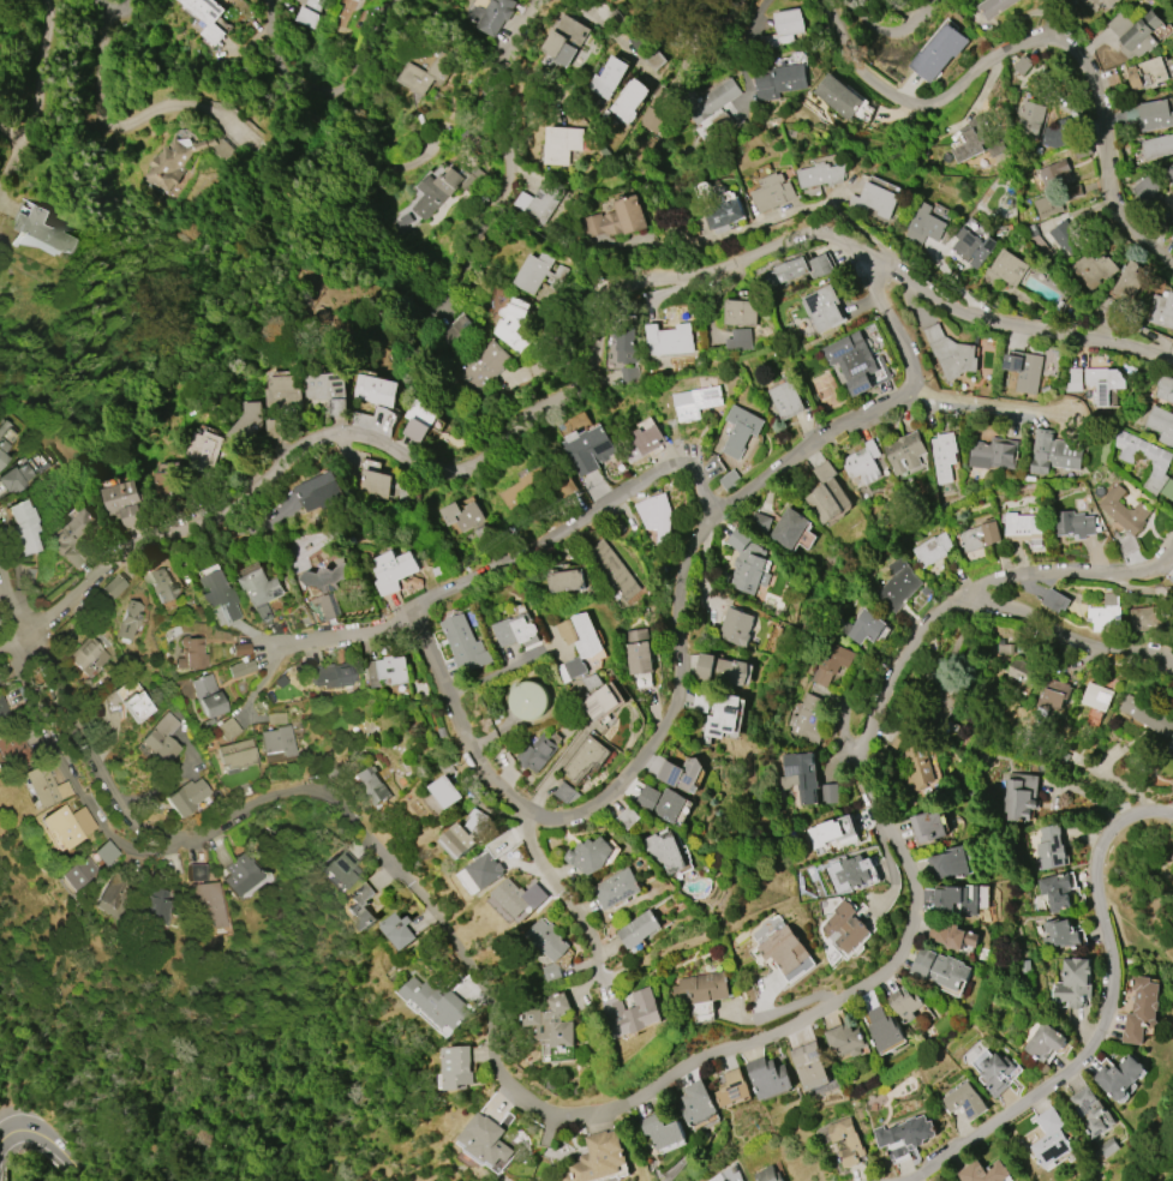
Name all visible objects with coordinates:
building: (355, 0)
building: (1097, 4)
building: (993, 7)
road: (109, 8)
road: (120, 8)
building: (306, 13)
building: (495, 14)
building: (208, 18)
building: (616, 19)
road: (1040, 20)
building: (784, 28)
road: (888, 32)
building: (1135, 32)
road: (1039, 38)
building: (565, 40)
road: (708, 42)
building: (938, 53)
building: (652, 59)
building: (1022, 64)
building: (429, 73)
building: (1147, 73)
building: (608, 77)
building: (0, 78)
building: (780, 82)
road: (304, 85)
building: (837, 96)
building: (710, 100)
building: (628, 101)
road: (37, 102)
building: (656, 109)
building: (724, 115)
building: (1155, 115)
building: (1029, 119)
road: (103, 121)
building: (1059, 133)
building: (980, 139)
building: (562, 143)
building: (1157, 146)
road: (508, 150)
building: (1082, 150)
building: (173, 164)
building: (821, 174)
building: (1055, 174)
building: (1169, 174)
building: (1145, 187)
building: (444, 188)
building: (1073, 190)
building: (772, 191)
building: (544, 198)
building: (873, 199)
building: (522, 200)
building: (1172, 203)
building: (1047, 204)
building: (723, 214)
building: (617, 218)
building: (924, 224)
building: (37, 226)
building: (1029, 230)
building: (1172, 236)
building: (1066, 238)
building: (1125, 246)
building: (972, 247)
road: (122, 252)
road: (243, 254)
building: (819, 265)
building: (1005, 269)
building: (788, 270)
building: (1093, 270)
building: (538, 272)
building: (1127, 282)
building: (822, 307)
building: (1161, 310)
building: (742, 313)
road: (888, 319)
building: (513, 324)
building: (933, 332)
building: (459, 334)
building: (669, 340)
building: (738, 340)
building: (626, 342)
building: (953, 356)
building: (856, 362)
road: (592, 364)
building: (480, 368)
building: (1024, 371)
building: (628, 374)
building: (1073, 380)
building: (1102, 384)
building: (1165, 388)
building: (327, 390)
building: (373, 390)
building: (282, 394)
building: (786, 400)
building: (695, 402)
road: (856, 418)
building: (245, 424)
building: (1161, 424)
building: (4, 426)
building: (414, 430)
building: (741, 430)
building: (641, 439)
building: (201, 446)
building: (588, 449)
building: (2, 450)
building: (904, 451)
building: (1053, 451)
building: (992, 454)
building: (942, 456)
building: (1160, 463)
building: (861, 464)
building: (14, 478)
building: (163, 479)
building: (729, 479)
building: (375, 484)
building: (319, 491)
building: (523, 492)
building: (826, 494)
building: (122, 503)
building: (462, 515)
building: (656, 516)
building: (1124, 517)
road: (570, 523)
building: (759, 523)
building: (1073, 523)
building: (24, 526)
building: (789, 527)
building: (1023, 527)
building: (980, 535)
building: (74, 538)
building: (932, 548)
building: (746, 564)
building: (393, 570)
building: (611, 570)
building: (327, 577)
road: (1070, 577)
building: (565, 580)
building: (1172, 580)
building: (258, 584)
building: (897, 584)
building: (114, 586)
building: (160, 586)
building: (219, 595)
building: (1055, 600)
building: (329, 606)
road: (4, 607)
road: (7, 609)
building: (261, 613)
building: (1106, 613)
building: (1145, 618)
building: (128, 619)
building: (736, 627)
building: (862, 627)
building: (516, 630)
road: (345, 634)
building: (580, 634)
road: (12, 636)
building: (463, 645)
building: (239, 648)
building: (1004, 649)
building: (191, 653)
building: (88, 655)
building: (639, 658)
building: (830, 663)
building: (705, 666)
building: (239, 667)
building: (574, 667)
building: (388, 670)
building: (1019, 671)
building: (730, 672)
building: (331, 676)
building: (1055, 691)
building: (207, 695)
building: (598, 696)
building: (1096, 696)
building: (529, 700)
building: (137, 706)
building: (936, 711)
building: (718, 712)
building: (5, 714)
building: (1145, 714)
building: (275, 718)
building: (806, 719)
building: (226, 727)
building: (160, 738)
building: (1172, 739)
building: (20, 741)
building: (276, 741)
building: (537, 753)
building: (235, 755)
building: (585, 759)
building: (917, 765)
road: (561, 768)
road: (166, 771)
building: (681, 774)
building: (800, 775)
building: (370, 784)
building: (46, 786)
building: (447, 791)
building: (565, 792)
building: (827, 793)
building: (185, 796)
building: (1018, 796)
road: (592, 797)
building: (647, 797)
building: (668, 805)
building: (627, 817)
building: (478, 821)
building: (67, 825)
building: (927, 826)
building: (832, 831)
building: (460, 839)
building: (1049, 847)
building: (664, 851)
building: (104, 852)
building: (592, 855)
building: (1172, 858)
building: (948, 863)
building: (340, 868)
building: (485, 870)
building: (77, 871)
building: (194, 871)
building: (240, 873)
building: (849, 873)
road: (545, 881)
building: (617, 888)
building: (1055, 891)
building: (114, 893)
building: (534, 895)
building: (510, 897)
building: (954, 898)
building: (205, 904)
building: (361, 905)
building: (155, 906)
road: (1100, 909)
building: (845, 928)
building: (639, 929)
building: (399, 930)
building: (1059, 934)
building: (951, 935)
building: (545, 940)
building: (784, 949)
building: (940, 969)
building: (550, 972)
building: (1073, 983)
building: (701, 987)
building: (436, 1002)
building: (904, 1002)
building: (1142, 1009)
building: (632, 1013)
building: (550, 1023)
building: (884, 1029)
building: (844, 1039)
building: (1045, 1042)
building: (809, 1066)
building: (457, 1067)
building: (993, 1071)
building: (767, 1077)
building: (1119, 1077)
building: (550, 1084)
building: (731, 1087)
road: (636, 1097)
building: (965, 1101)
building: (695, 1103)
building: (1091, 1111)
road: (994, 1120)
building: (662, 1131)
building: (904, 1135)
building: (1051, 1139)
road: (47, 1140)
building: (487, 1140)
building: (846, 1141)
building: (1108, 1147)
building: (598, 1158)
building: (983, 1171)
building: (766, 1175)
building: (722, 1180)

